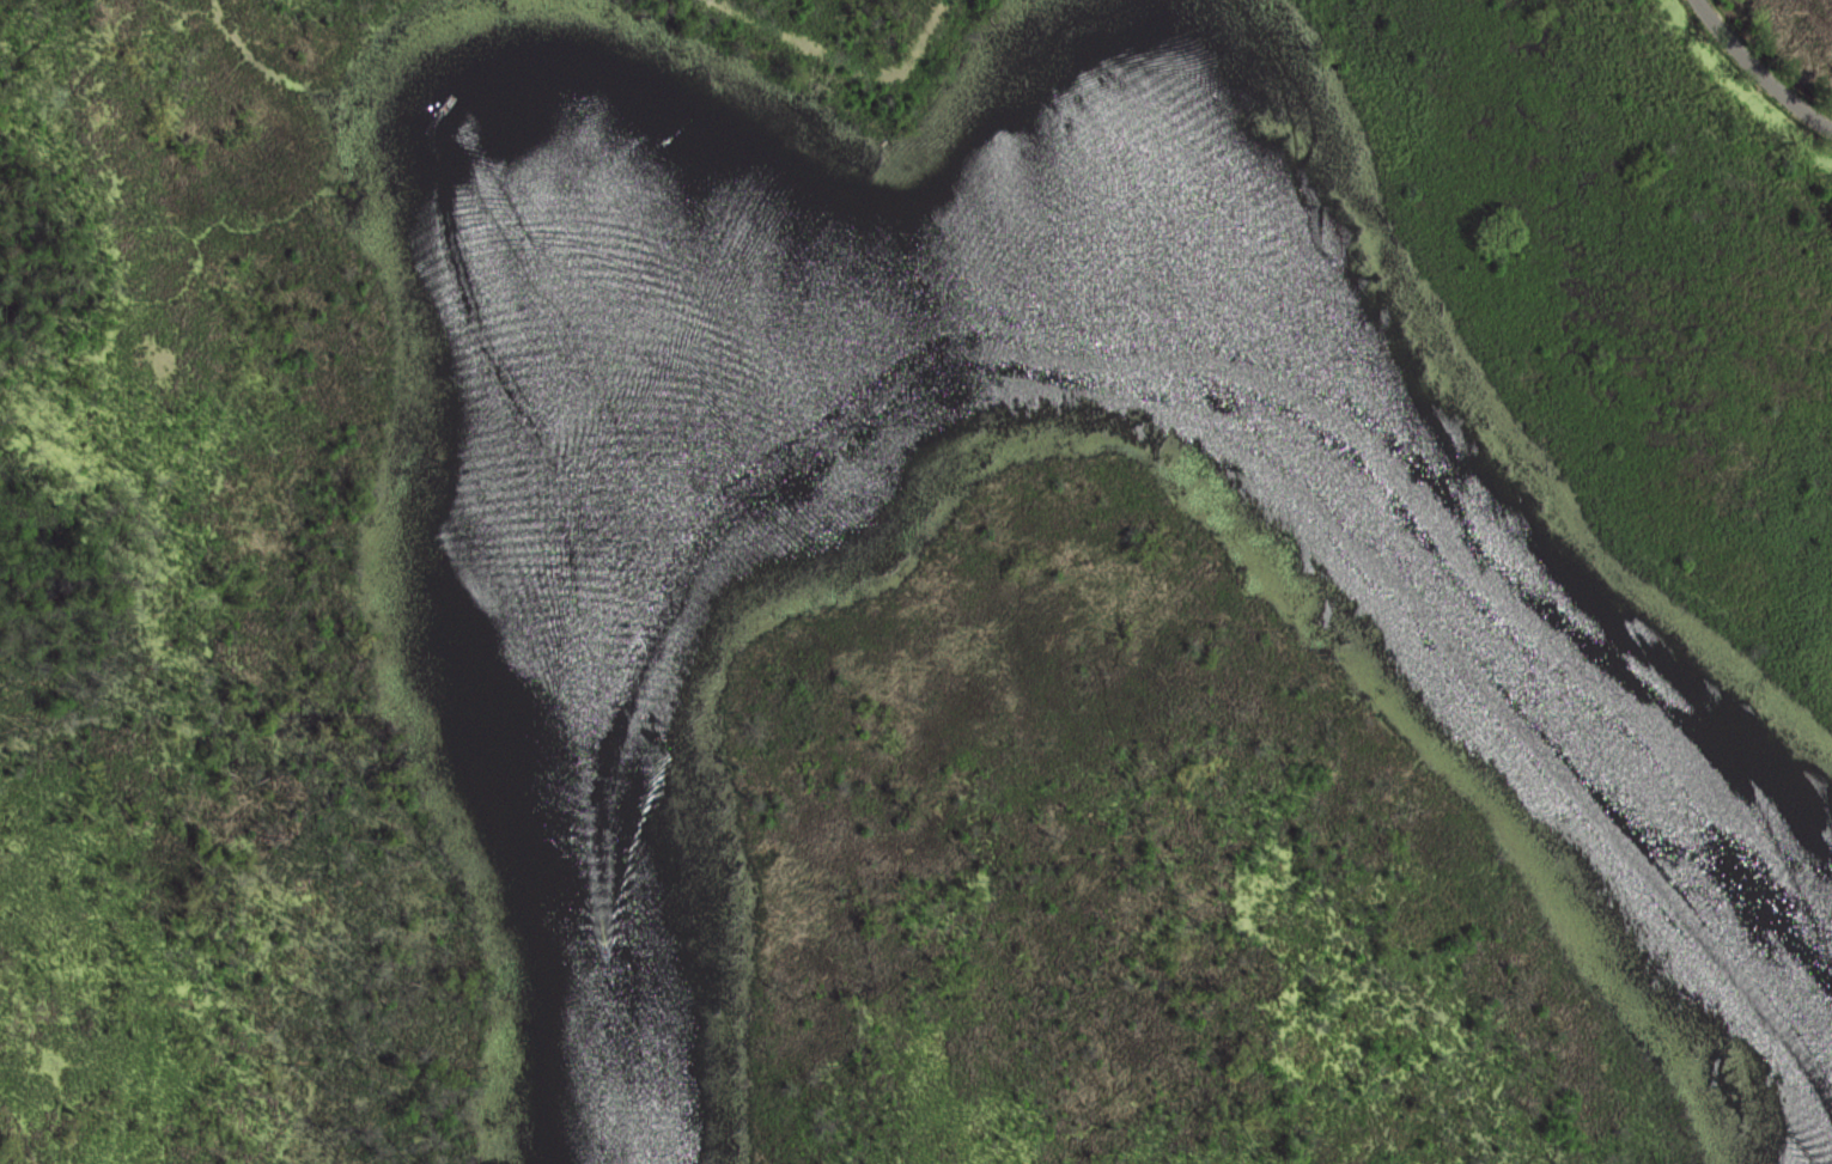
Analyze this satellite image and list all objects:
road: (1755, 72)

